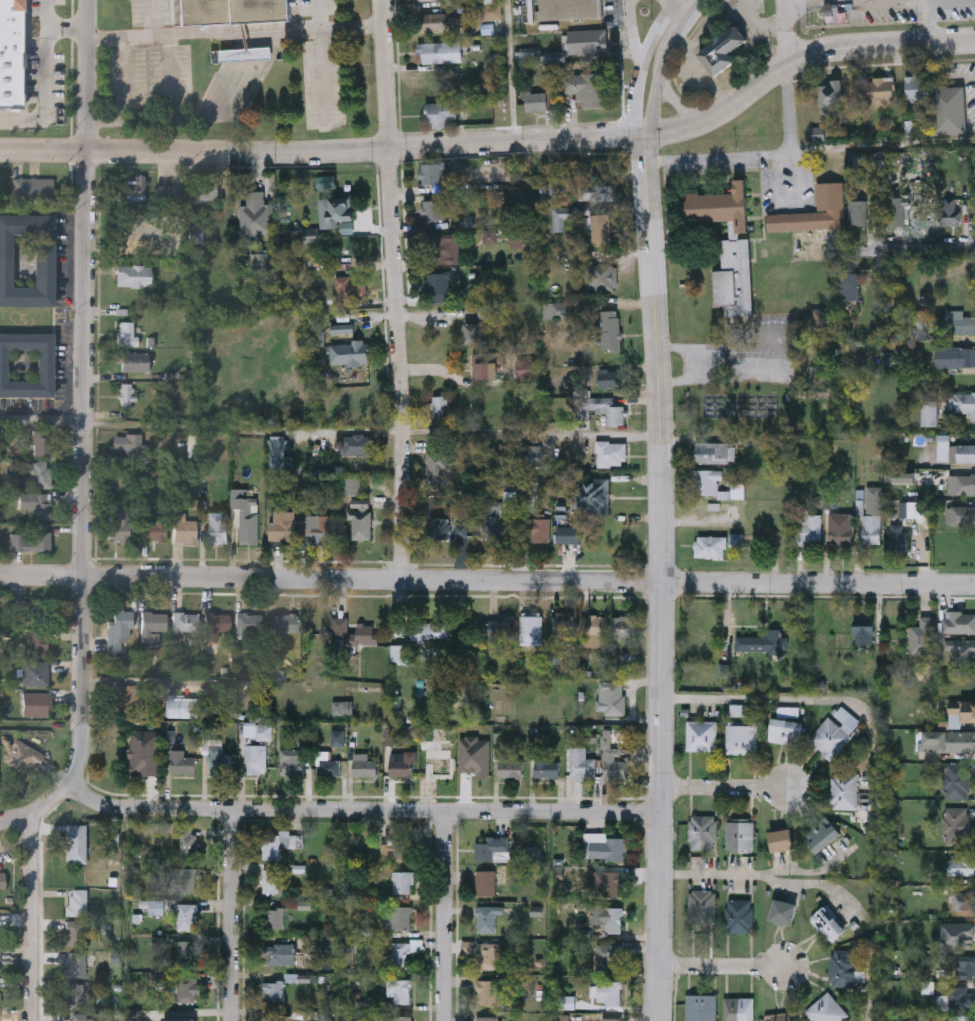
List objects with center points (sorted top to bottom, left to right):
building: (432, 0)
road: (668, 2)
road: (675, 2)
road: (913, 2)
parking lot: (318, 7)
building: (568, 9)
parking lot: (956, 10)
building: (230, 11)
road: (681, 11)
parking lot: (885, 11)
parking lot: (150, 12)
road: (929, 22)
building: (433, 23)
road: (759, 24)
road: (67, 30)
road: (634, 30)
road: (656, 31)
road: (787, 32)
road: (233, 37)
building: (587, 40)
building: (436, 52)
building: (722, 52)
building: (11, 53)
road: (662, 63)
road: (511, 72)
parking lot: (150, 79)
road: (47, 83)
parking lot: (323, 84)
building: (583, 85)
building: (918, 87)
building: (880, 89)
road: (246, 93)
building: (831, 95)
road: (635, 99)
road: (674, 100)
building: (536, 101)
building: (950, 109)
building: (446, 113)
road: (189, 121)
road: (498, 144)
road: (762, 154)
building: (431, 171)
building: (558, 184)
building: (134, 188)
building: (205, 188)
building: (594, 188)
building: (33, 190)
building: (830, 197)
building: (434, 209)
building: (335, 210)
building: (896, 210)
building: (950, 210)
building: (859, 211)
building: (256, 214)
building: (567, 214)
building: (600, 228)
building: (728, 245)
building: (441, 248)
road: (914, 251)
building: (27, 259)
building: (133, 275)
building: (600, 275)
building: (437, 285)
building: (850, 285)
building: (350, 287)
road: (393, 289)
building: (562, 308)
building: (960, 321)
building: (610, 329)
building: (472, 332)
building: (126, 333)
building: (348, 352)
building: (955, 356)
building: (133, 361)
building: (27, 364)
building: (484, 365)
building: (525, 367)
building: (607, 377)
road: (87, 393)
building: (126, 395)
building: (962, 402)
building: (439, 405)
building: (599, 408)
building: (930, 412)
road: (330, 426)
building: (40, 443)
building: (356, 443)
building: (127, 444)
building: (278, 452)
building: (713, 452)
building: (965, 452)
building: (531, 453)
building: (611, 453)
building: (437, 463)
building: (40, 474)
building: (707, 480)
building: (961, 483)
building: (592, 493)
building: (363, 501)
building: (831, 501)
building: (36, 503)
building: (911, 508)
building: (245, 514)
building: (960, 514)
building: (464, 523)
building: (359, 525)
building: (492, 525)
building: (119, 526)
building: (217, 526)
building: (437, 526)
building: (809, 526)
building: (318, 527)
building: (280, 528)
building: (537, 528)
building: (873, 528)
building: (185, 530)
building: (153, 531)
building: (841, 535)
building: (30, 539)
building: (737, 540)
building: (899, 542)
building: (710, 546)
road: (662, 578)
road: (487, 580)
building: (186, 621)
building: (217, 622)
building: (284, 622)
building: (33, 623)
building: (959, 623)
building: (153, 624)
building: (246, 624)
building: (623, 624)
building: (564, 628)
building: (340, 629)
building: (431, 629)
building: (499, 629)
building: (531, 629)
building: (593, 629)
building: (119, 630)
building: (365, 632)
building: (864, 634)
building: (919, 637)
building: (763, 641)
building: (961, 650)
building: (398, 653)
building: (34, 672)
building: (613, 696)
building: (126, 697)
road: (805, 700)
building: (36, 703)
building: (183, 706)
building: (961, 712)
building: (785, 729)
building: (834, 730)
building: (701, 733)
building: (741, 735)
building: (949, 740)
building: (145, 751)
building: (23, 756)
building: (256, 757)
building: (219, 759)
building: (438, 759)
building: (291, 760)
building: (182, 761)
building: (473, 761)
building: (615, 762)
building: (582, 763)
building: (328, 764)
building: (402, 766)
building: (365, 767)
building: (511, 767)
building: (547, 767)
building: (958, 780)
road: (723, 788)
building: (844, 788)
road: (37, 809)
road: (360, 809)
building: (957, 824)
building: (702, 830)
building: (822, 833)
building: (739, 835)
building: (781, 838)
building: (75, 843)
building: (187, 843)
building: (281, 843)
building: (605, 846)
building: (491, 848)
building: (396, 849)
building: (963, 863)
road: (756, 876)
building: (184, 879)
building: (2, 880)
building: (270, 880)
building: (402, 881)
building: (485, 882)
building: (608, 884)
road: (819, 886)
building: (964, 900)
building: (76, 902)
building: (701, 906)
building: (783, 911)
road: (37, 914)
building: (739, 914)
road: (233, 915)
road: (445, 915)
building: (186, 916)
building: (274, 917)
building: (403, 917)
building: (608, 917)
building: (486, 918)
building: (827, 922)
building: (75, 932)
building: (186, 952)
building: (278, 954)
building: (399, 954)
building: (485, 955)
building: (608, 956)
building: (0, 962)
building: (76, 964)
building: (966, 965)
building: (843, 966)
road: (722, 967)
building: (185, 989)
building: (399, 990)
building: (272, 991)
building: (489, 992)
building: (609, 992)
building: (73, 994)
road: (873, 994)
building: (961, 997)
building: (701, 1007)
building: (738, 1008)
building: (826, 1008)
building: (782, 1015)
building: (271, 1016)
building: (76, 1017)
building: (187, 1018)
building: (402, 1018)
building: (485, 1018)
building: (963, 1018)
building: (612, 1019)

